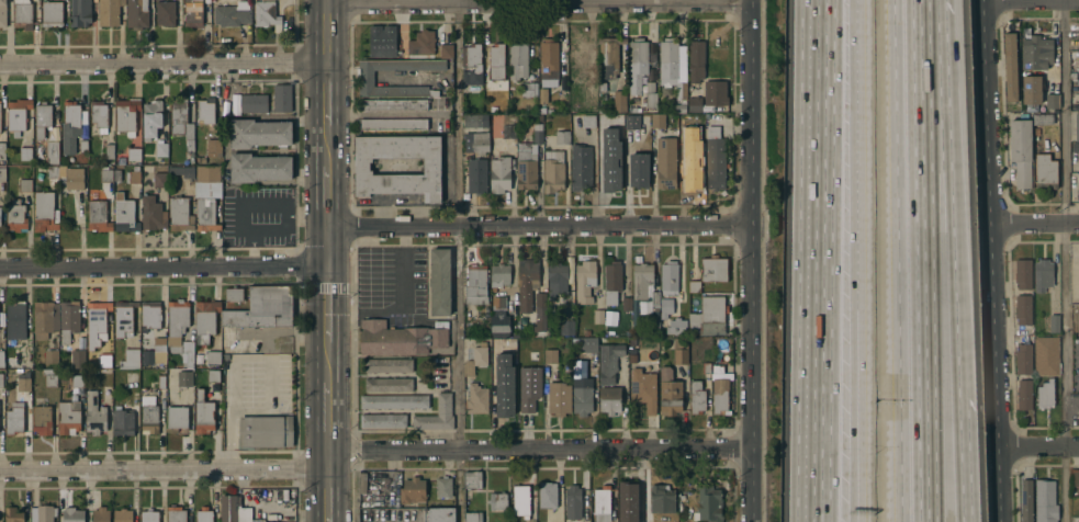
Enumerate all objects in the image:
road: (1024, 0)
road: (536, 2)
building: (109, 13)
building: (2, 14)
building: (22, 14)
building: (79, 14)
building: (136, 14)
building: (165, 14)
building: (192, 14)
building: (50, 15)
building: (232, 15)
building: (267, 15)
road: (324, 32)
building: (381, 41)
building: (420, 44)
building: (445, 52)
building: (1036, 53)
building: (577, 55)
building: (472, 56)
building: (608, 56)
building: (517, 60)
building: (695, 61)
building: (496, 63)
building: (548, 63)
road: (161, 65)
building: (636, 65)
building: (1010, 65)
building: (672, 69)
building: (366, 79)
building: (602, 88)
building: (1031, 88)
building: (528, 90)
building: (589, 93)
road: (324, 94)
building: (649, 95)
building: (713, 95)
building: (542, 97)
building: (281, 99)
building: (618, 102)
building: (1052, 102)
building: (252, 104)
building: (393, 105)
building: (574, 105)
building: (695, 105)
building: (679, 109)
building: (540, 111)
building: (631, 111)
building: (205, 112)
building: (16, 116)
building: (99, 116)
building: (126, 116)
building: (375, 117)
building: (1043, 117)
building: (607, 118)
building: (151, 120)
building: (42, 121)
building: (475, 122)
building: (587, 122)
building: (656, 122)
building: (181, 123)
building: (631, 123)
building: (392, 125)
building: (1077, 126)
building: (69, 127)
building: (507, 133)
building: (259, 134)
building: (464, 136)
building: (684, 137)
building: (561, 138)
building: (604, 138)
building: (479, 144)
road: (324, 146)
building: (1075, 146)
building: (82, 147)
building: (214, 148)
road: (855, 148)
building: (160, 150)
building: (1020, 150)
building: (2, 151)
building: (109, 151)
building: (52, 152)
building: (24, 155)
building: (134, 157)
building: (201, 160)
building: (713, 160)
building: (527, 161)
building: (665, 163)
building: (430, 167)
building: (259, 168)
building: (580, 169)
road: (922, 169)
building: (1045, 170)
building: (638, 171)
building: (692, 171)
building: (53, 172)
building: (182, 172)
building: (552, 172)
building: (207, 174)
building: (611, 174)
building: (2, 175)
building: (498, 175)
building: (105, 177)
building: (117, 177)
building: (475, 177)
building: (134, 178)
building: (72, 179)
building: (158, 181)
building: (24, 186)
building: (1078, 189)
road: (325, 197)
road: (951, 198)
building: (44, 213)
building: (124, 215)
building: (153, 215)
building: (180, 215)
building: (205, 216)
building: (15, 217)
building: (98, 217)
road: (1032, 223)
road: (537, 227)
road: (325, 247)
road: (459, 261)
road: (749, 261)
road: (823, 261)
road: (896, 261)
road: (987, 261)
road: (1065, 261)
road: (162, 268)
building: (712, 270)
building: (1023, 272)
building: (1043, 273)
building: (498, 276)
building: (668, 279)
building: (557, 281)
building: (641, 281)
building: (439, 282)
building: (584, 283)
building: (611, 283)
building: (527, 284)
building: (475, 285)
building: (694, 287)
building: (234, 296)
building: (654, 300)
road: (325, 304)
building: (626, 305)
road: (402, 306)
building: (665, 308)
building: (1023, 308)
building: (262, 309)
building: (550, 309)
building: (1075, 310)
building: (539, 314)
building: (150, 316)
building: (597, 317)
building: (708, 318)
building: (123, 319)
building: (45, 320)
building: (15, 321)
building: (68, 321)
building: (177, 321)
building: (205, 321)
building: (1054, 321)
building: (97, 324)
building: (501, 326)
building: (676, 327)
building: (565, 328)
building: (622, 334)
building: (401, 339)
building: (587, 345)
building: (679, 352)
building: (154, 353)
building: (188, 354)
building: (632, 354)
building: (1046, 354)
building: (52, 358)
building: (77, 358)
building: (225, 358)
road: (243, 358)
building: (550, 358)
building: (213, 359)
building: (475, 359)
building: (497, 359)
building: (713, 359)
building: (1, 360)
building: (130, 360)
building: (22, 361)
building: (104, 361)
road: (326, 362)
building: (607, 363)
building: (387, 366)
building: (705, 368)
building: (717, 371)
building: (1023, 376)
building: (213, 377)
building: (49, 378)
building: (184, 378)
building: (1, 381)
building: (77, 381)
building: (23, 382)
building: (161, 383)
building: (387, 385)
building: (528, 388)
building: (642, 390)
building: (1045, 393)
building: (668, 395)
building: (719, 396)
building: (696, 398)
building: (503, 399)
building: (558, 399)
building: (475, 400)
building: (582, 400)
building: (609, 400)
building: (393, 402)
road: (853, 409)
road: (857, 409)
building: (1078, 410)
building: (442, 412)
building: (203, 415)
building: (94, 416)
building: (149, 416)
building: (69, 418)
building: (14, 420)
building: (177, 420)
building: (42, 421)
road: (326, 421)
building: (382, 422)
building: (422, 422)
building: (122, 423)
road: (925, 430)
building: (265, 432)
road: (1037, 447)
road: (373, 452)
road: (960, 461)
building: (1075, 476)
building: (471, 480)
building: (361, 484)
building: (442, 488)
road: (326, 490)
building: (411, 491)
building: (373, 496)
building: (547, 496)
building: (1026, 499)
building: (661, 500)
building: (629, 501)
building: (1045, 501)
building: (497, 502)
building: (520, 502)
building: (573, 503)
building: (600, 504)
building: (708, 506)
building: (234, 511)
building: (43, 514)
building: (176, 514)
building: (13, 515)
building: (72, 515)
building: (101, 515)
building: (122, 515)
building: (203, 515)
building: (439, 515)
building: (149, 517)
building: (472, 518)

